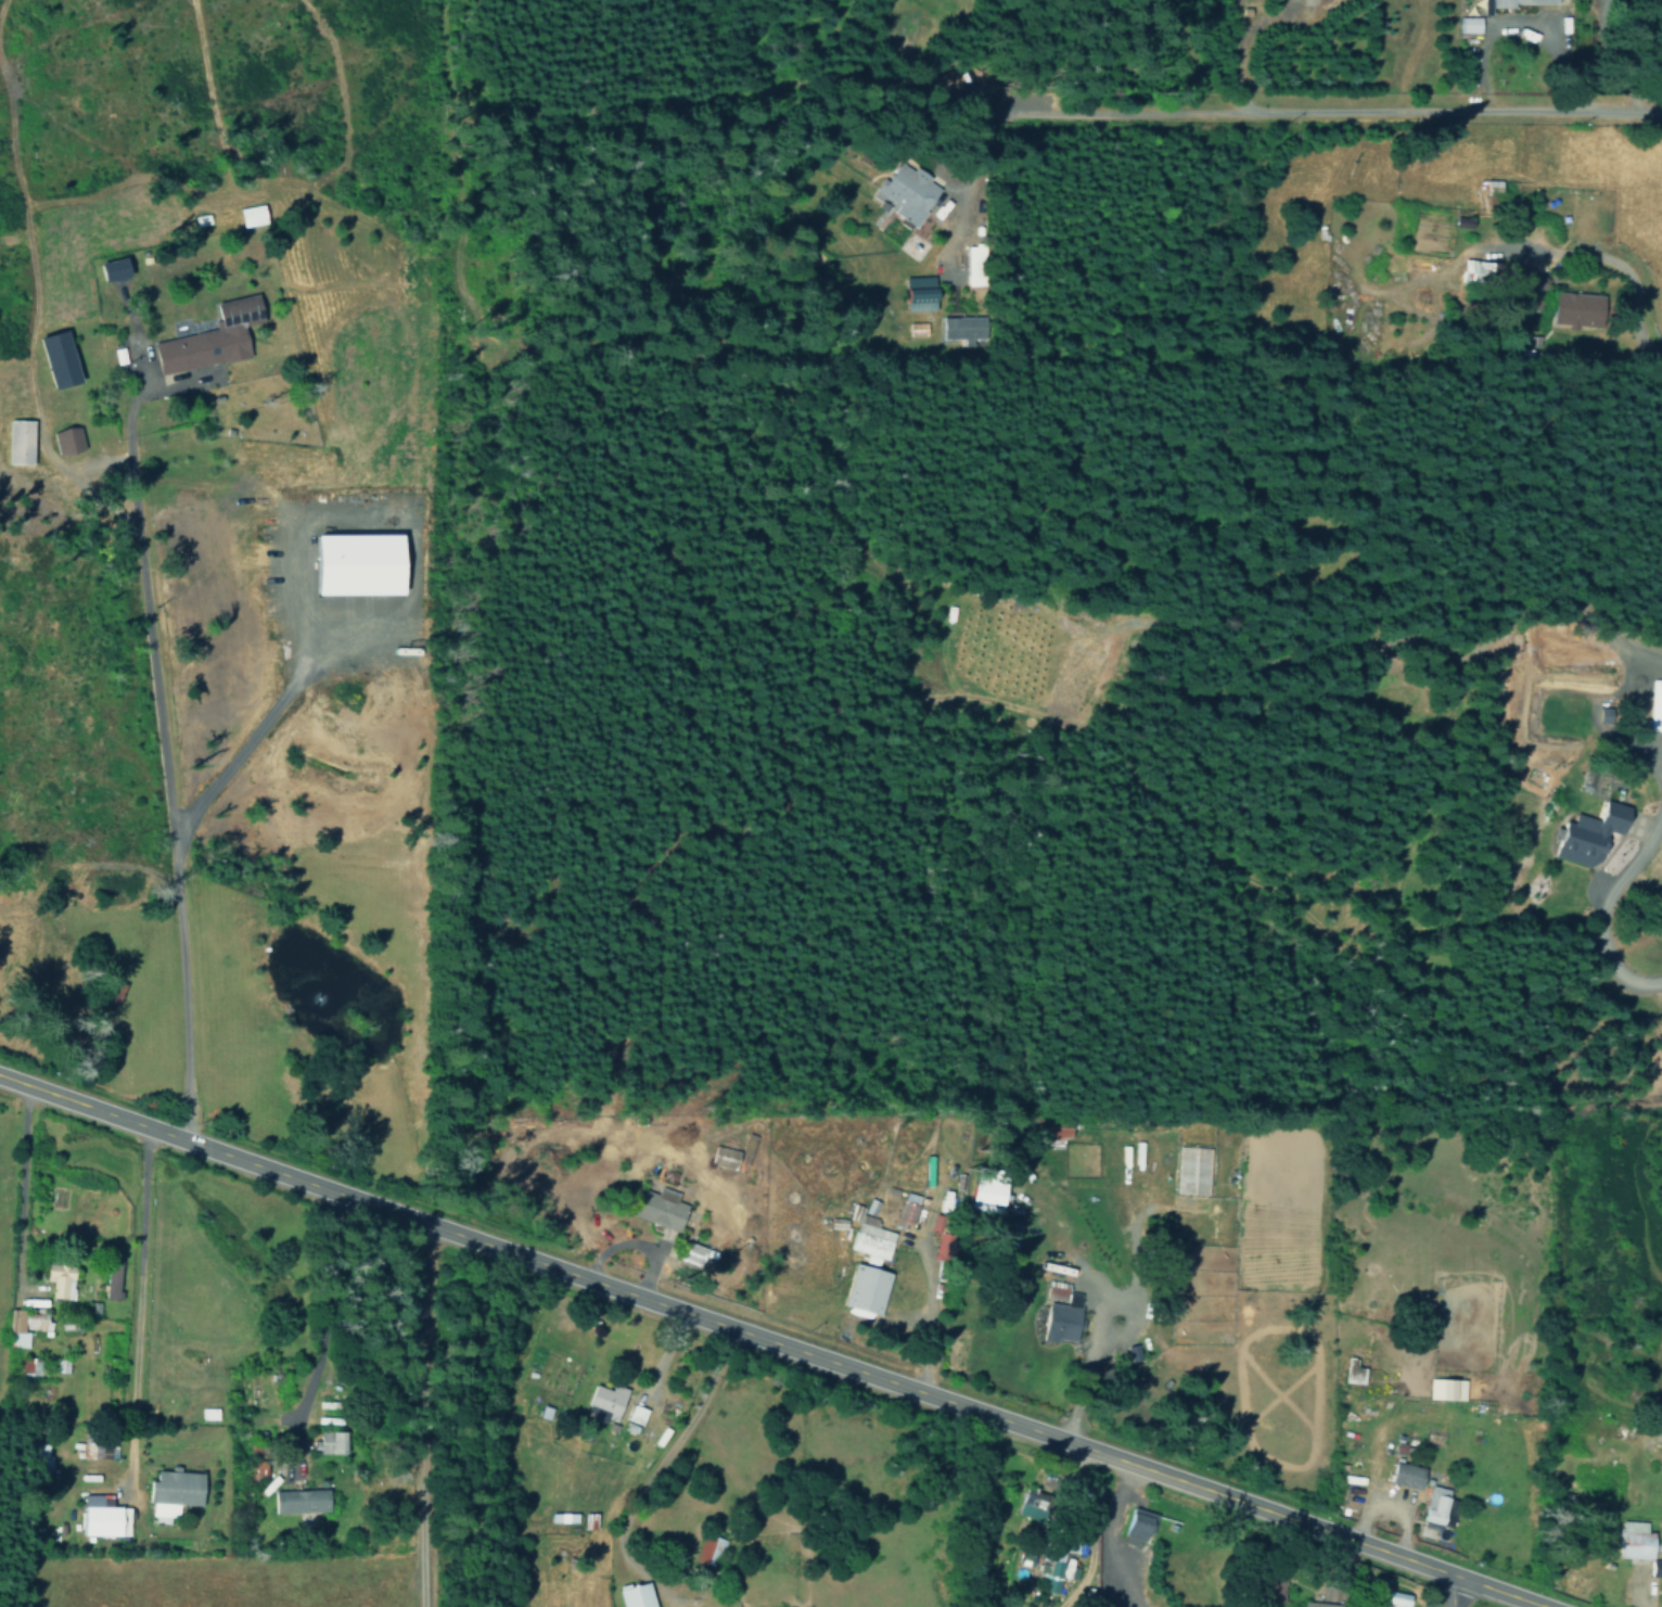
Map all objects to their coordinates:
building: (1521, 2)
building: (1468, 24)
road: (1301, 116)
building: (907, 192)
building: (248, 215)
road: (1518, 250)
building: (1470, 266)
building: (916, 293)
building: (1574, 307)
building: (962, 328)
building: (208, 337)
building: (60, 358)
building: (66, 439)
building: (22, 441)
building: (348, 563)
building: (1654, 705)
road: (162, 777)
building: (1585, 779)
road: (1636, 825)
building: (1586, 834)
road: (1596, 906)
building: (1053, 1130)
building: (1191, 1170)
road: (17, 1188)
building: (985, 1188)
building: (659, 1207)
building: (907, 1207)
building: (869, 1239)
building: (62, 1278)
building: (114, 1281)
building: (864, 1289)
road: (321, 1300)
road: (929, 1310)
building: (1058, 1312)
building: (27, 1325)
road: (770, 1339)
building: (31, 1365)
building: (1351, 1370)
building: (1444, 1388)
building: (604, 1399)
building: (667, 1407)
building: (635, 1415)
road: (1642, 1436)
building: (99, 1444)
building: (1404, 1475)
road: (652, 1477)
building: (177, 1492)
building: (297, 1501)
building: (1028, 1504)
building: (102, 1516)
building: (550, 1516)
building: (566, 1516)
building: (585, 1519)
building: (1136, 1525)
building: (1639, 1541)
building: (707, 1548)
building: (1655, 1567)
building: (1054, 1570)
crop: (218, 1581)
road: (1450, 1592)
building: (630, 1595)
building: (1391, 1597)
building: (1317, 1604)

